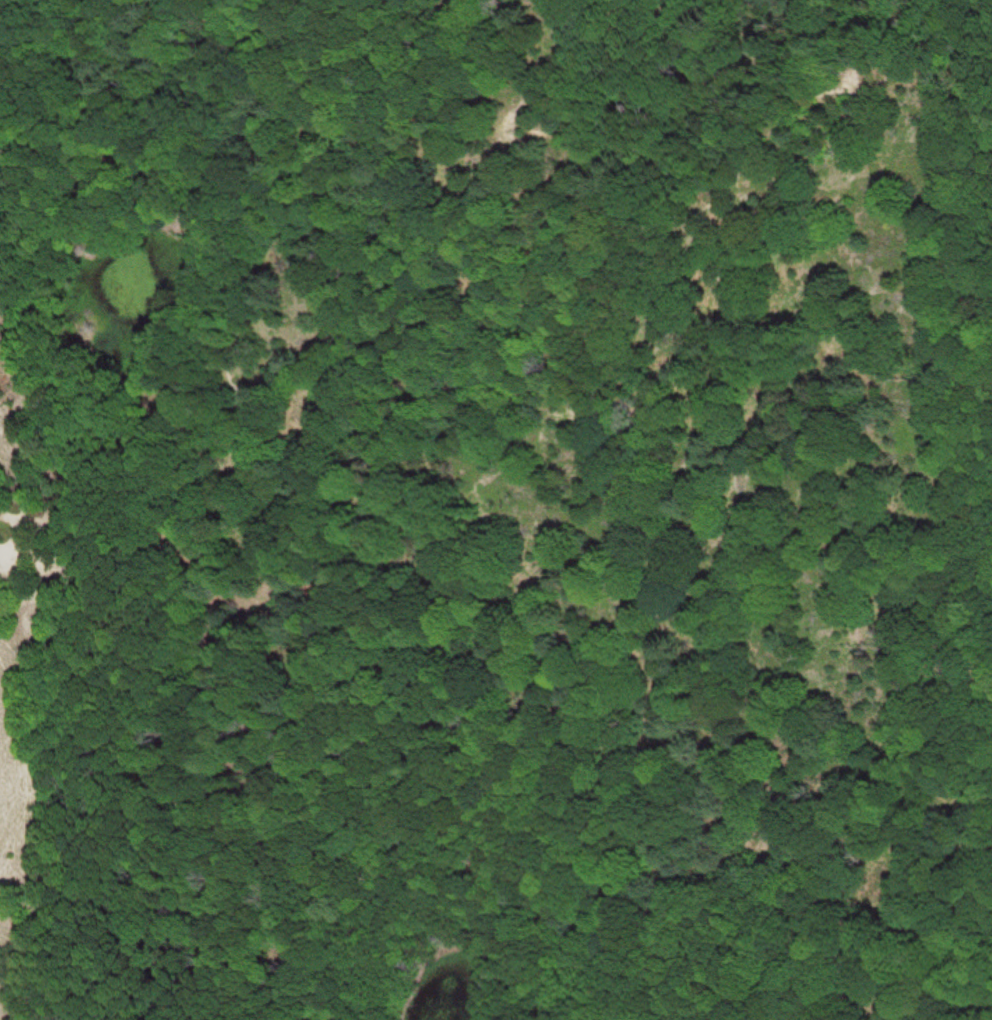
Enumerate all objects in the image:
park: (496, 510)

